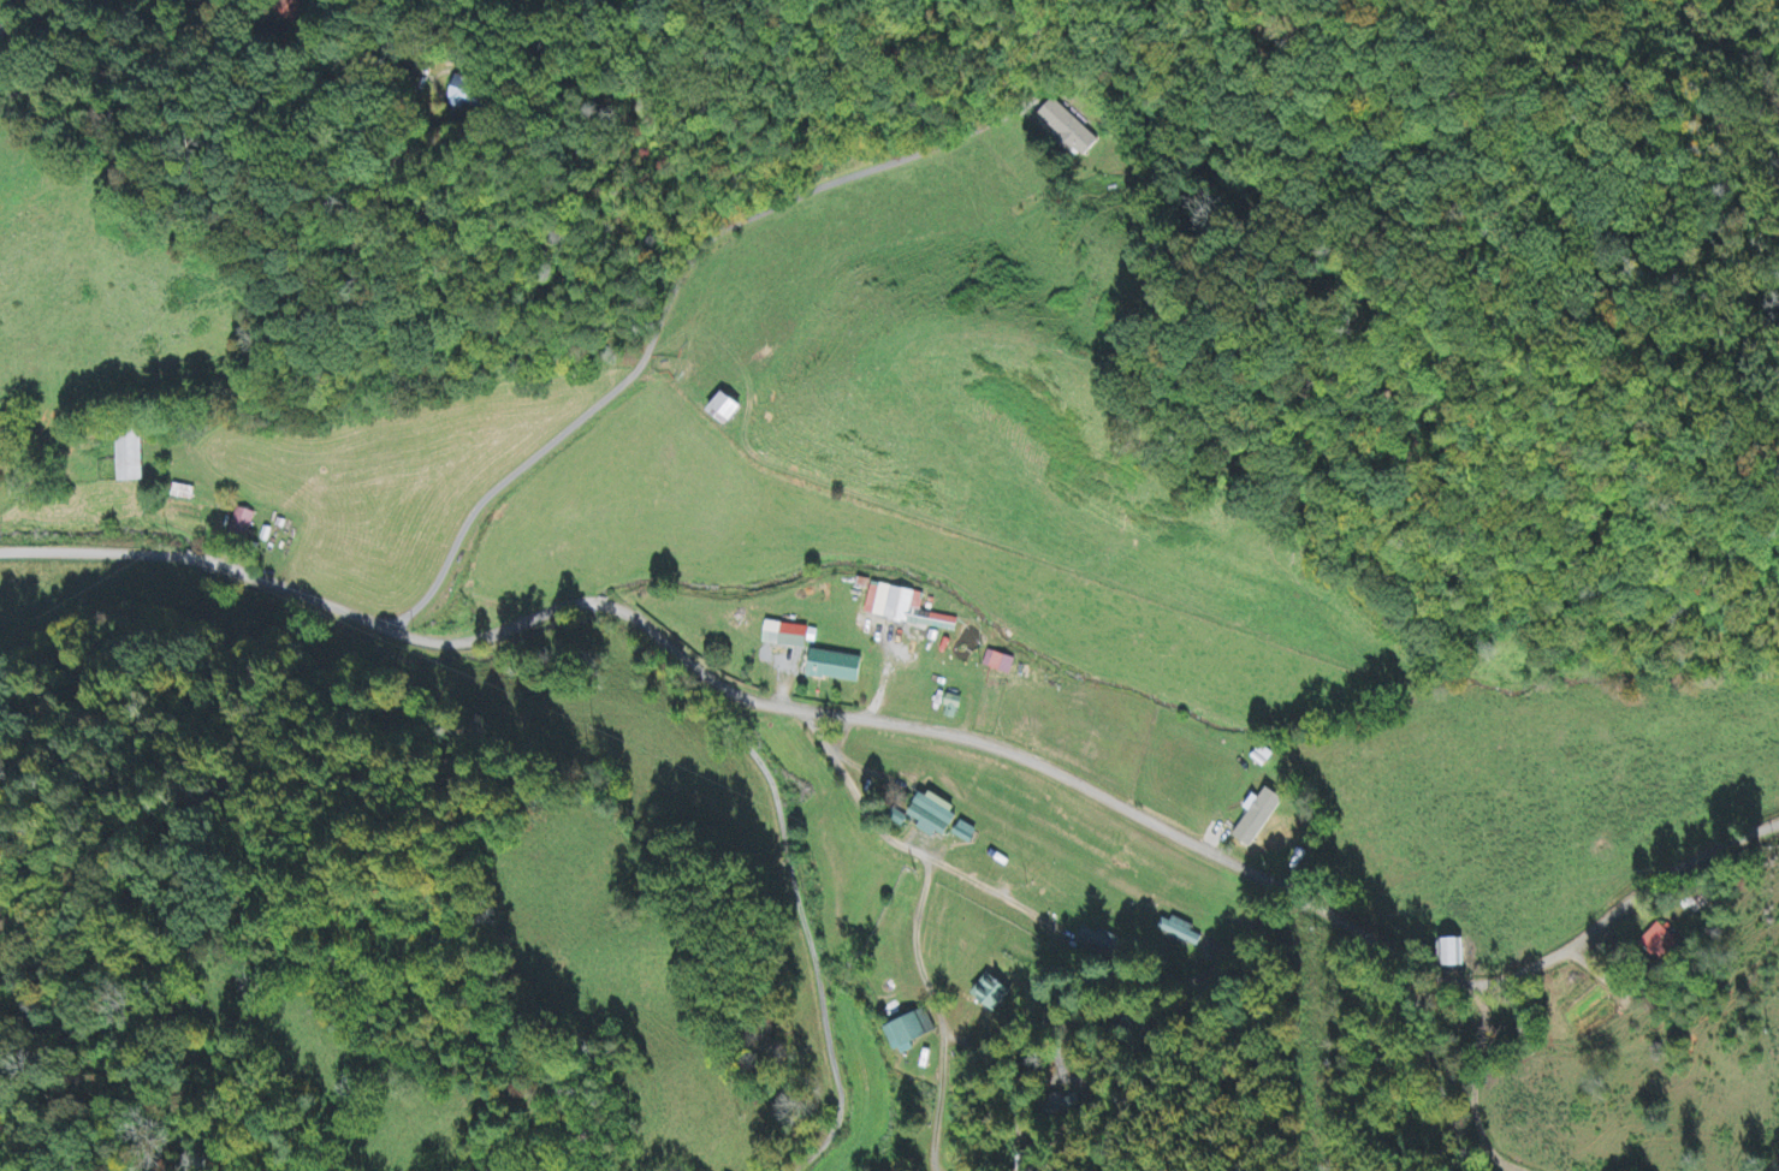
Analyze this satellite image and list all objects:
building: (5, 28)
building: (464, 95)
building: (1067, 129)
road: (251, 160)
road: (396, 295)
building: (730, 410)
building: (130, 459)
building: (183, 494)
building: (242, 525)
road: (90, 553)
road: (198, 560)
building: (901, 607)
building: (789, 637)
building: (1001, 664)
building: (838, 668)
building: (955, 708)
road: (1021, 753)
building: (936, 816)
building: (1259, 820)
building: (967, 834)
building: (1180, 932)
road: (813, 934)
building: (1452, 953)
building: (996, 994)
building: (911, 1033)
road: (1427, 1065)

